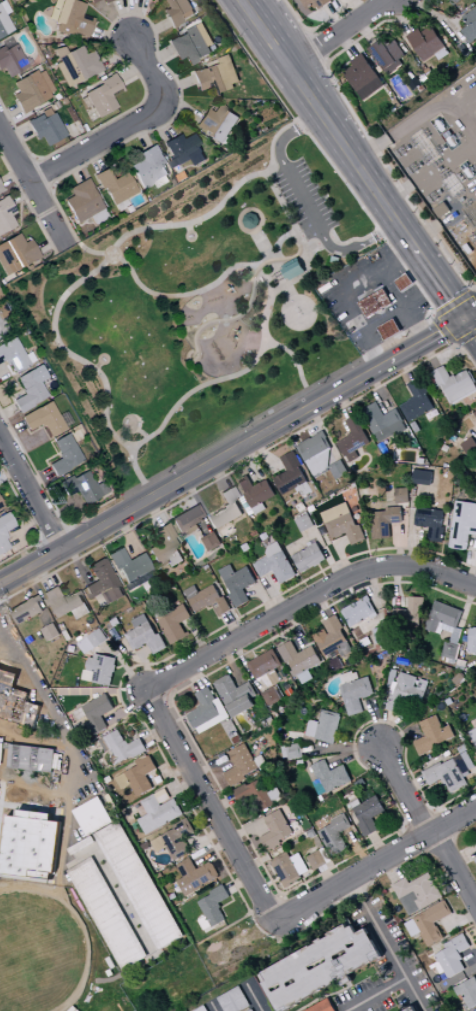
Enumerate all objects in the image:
building: (102, 0)
building: (314, 3)
building: (176, 11)
building: (69, 18)
building: (3, 20)
building: (470, 25)
road: (336, 33)
building: (424, 42)
building: (191, 45)
building: (387, 56)
building: (10, 59)
building: (74, 65)
building: (216, 76)
building: (362, 77)
building: (30, 90)
building: (100, 96)
road: (416, 121)
building: (217, 123)
road: (127, 126)
building: (44, 128)
road: (290, 133)
building: (182, 150)
road: (461, 154)
road: (352, 159)
power substation: (442, 163)
building: (147, 168)
building: (114, 187)
road: (408, 187)
road: (31, 188)
building: (0, 190)
road: (474, 191)
parking lot: (305, 198)
road: (304, 200)
building: (81, 201)
building: (442, 210)
building: (5, 215)
road: (291, 219)
road: (441, 224)
road: (261, 241)
road: (359, 245)
road: (318, 248)
building: (468, 248)
building: (15, 254)
road: (310, 263)
road: (99, 264)
building: (294, 268)
building: (474, 268)
building: (280, 276)
building: (405, 282)
road: (337, 289)
road: (159, 294)
building: (362, 295)
gas station: (373, 298)
building: (376, 302)
park: (197, 305)
road: (242, 311)
road: (470, 314)
traffic signals: (464, 318)
road: (469, 327)
building: (390, 329)
road: (467, 337)
road: (457, 345)
road: (430, 355)
building: (13, 356)
road: (293, 356)
road: (406, 367)
road: (217, 379)
building: (456, 383)
building: (29, 389)
road: (380, 390)
building: (418, 401)
road: (343, 403)
building: (475, 413)
road: (316, 417)
building: (380, 417)
building: (42, 419)
building: (416, 427)
road: (238, 429)
building: (392, 431)
building: (354, 438)
building: (470, 445)
road: (232, 450)
building: (316, 452)
building: (63, 455)
road: (263, 455)
road: (254, 460)
road: (239, 465)
building: (339, 469)
building: (427, 469)
road: (359, 470)
building: (291, 473)
road: (216, 475)
building: (423, 477)
building: (81, 487)
road: (189, 490)
building: (255, 491)
building: (307, 491)
road: (29, 494)
building: (403, 495)
building: (374, 496)
building: (0, 507)
building: (302, 507)
building: (312, 508)
building: (227, 509)
building: (260, 509)
building: (355, 509)
road: (152, 512)
building: (336, 512)
building: (302, 515)
building: (187, 519)
building: (434, 519)
building: (385, 521)
building: (305, 523)
building: (463, 524)
building: (346, 528)
building: (4, 530)
building: (228, 530)
building: (189, 531)
road: (125, 534)
road: (412, 537)
building: (211, 541)
road: (398, 544)
building: (163, 546)
building: (309, 557)
building: (176, 558)
road: (342, 558)
road: (75, 561)
building: (276, 563)
road: (331, 563)
building: (131, 566)
building: (207, 569)
road: (472, 569)
road: (39, 575)
building: (102, 581)
building: (134, 583)
building: (238, 583)
road: (349, 585)
road: (397, 585)
road: (23, 593)
road: (274, 594)
road: (376, 595)
road: (356, 597)
road: (303, 598)
building: (208, 599)
road: (265, 599)
building: (63, 601)
road: (322, 604)
road: (466, 606)
building: (26, 609)
building: (81, 611)
building: (411, 613)
building: (443, 616)
building: (361, 617)
building: (175, 623)
road: (233, 625)
road: (297, 626)
building: (445, 628)
building: (51, 632)
building: (411, 633)
building: (382, 634)
building: (67, 635)
road: (466, 635)
road: (2, 636)
building: (145, 636)
building: (332, 636)
road: (197, 637)
building: (97, 638)
building: (472, 640)
building: (85, 644)
building: (43, 649)
building: (346, 650)
building: (450, 651)
building: (459, 651)
road: (254, 654)
building: (462, 655)
building: (299, 657)
road: (242, 658)
road: (232, 664)
building: (265, 664)
road: (125, 666)
road: (146, 667)
building: (100, 669)
building: (463, 675)
road: (123, 676)
road: (195, 676)
building: (306, 677)
building: (350, 677)
building: (393, 677)
building: (458, 678)
road: (159, 680)
building: (22, 687)
building: (408, 692)
building: (357, 694)
building: (236, 695)
building: (272, 696)
road: (171, 698)
building: (33, 700)
building: (16, 701)
road: (152, 705)
building: (204, 708)
road: (129, 709)
building: (98, 713)
road: (189, 713)
building: (81, 716)
road: (376, 721)
road: (173, 722)
building: (329, 726)
building: (312, 728)
road: (386, 729)
building: (235, 734)
road: (397, 735)
building: (433, 735)
building: (473, 735)
road: (156, 736)
building: (232, 736)
building: (461, 736)
building: (236, 739)
road: (70, 742)
building: (305, 742)
road: (26, 743)
building: (475, 743)
building: (25, 744)
building: (463, 746)
building: (125, 747)
road: (342, 747)
building: (295, 751)
building: (1, 752)
road: (354, 752)
building: (31, 759)
building: (260, 761)
building: (465, 763)
road: (210, 765)
building: (241, 765)
road: (3, 771)
road: (176, 773)
building: (447, 775)
building: (139, 776)
building: (331, 776)
road: (182, 786)
road: (414, 786)
building: (318, 787)
road: (30, 788)
building: (31, 791)
building: (254, 795)
building: (277, 796)
building: (356, 803)
road: (208, 804)
road: (223, 804)
building: (32, 807)
building: (159, 811)
building: (369, 815)
building: (93, 816)
road: (419, 818)
building: (323, 823)
road: (425, 826)
road: (9, 828)
building: (10, 828)
road: (244, 830)
building: (279, 830)
building: (336, 835)
road: (207, 838)
building: (175, 840)
road: (249, 841)
building: (9, 842)
building: (32, 845)
building: (82, 845)
building: (49, 847)
road: (379, 847)
road: (358, 849)
road: (211, 851)
building: (312, 851)
building: (121, 852)
road: (10, 857)
road: (464, 857)
building: (317, 860)
road: (373, 864)
building: (302, 867)
building: (14, 869)
building: (286, 869)
road: (391, 870)
building: (196, 876)
road: (327, 878)
building: (90, 880)
road: (114, 880)
road: (277, 880)
road: (279, 883)
road: (238, 884)
road: (265, 888)
road: (356, 890)
building: (418, 893)
road: (281, 895)
building: (214, 905)
road: (265, 905)
road: (367, 909)
building: (154, 910)
road: (291, 915)
road: (467, 918)
building: (399, 919)
building: (432, 922)
building: (205, 923)
building: (413, 928)
building: (118, 930)
road: (241, 947)
track: (38, 951)
building: (452, 956)
road: (398, 964)
building: (433, 966)
building: (319, 967)
road: (471, 970)
park: (156, 986)
building: (468, 992)
road: (377, 994)
road: (323, 996)
road: (252, 997)
road: (327, 997)
building: (234, 1000)
road: (272, 1004)
road: (331, 1004)
road: (213, 1006)
building: (323, 1006)
building: (202, 1009)
building: (411, 1009)
building: (252, 1010)

